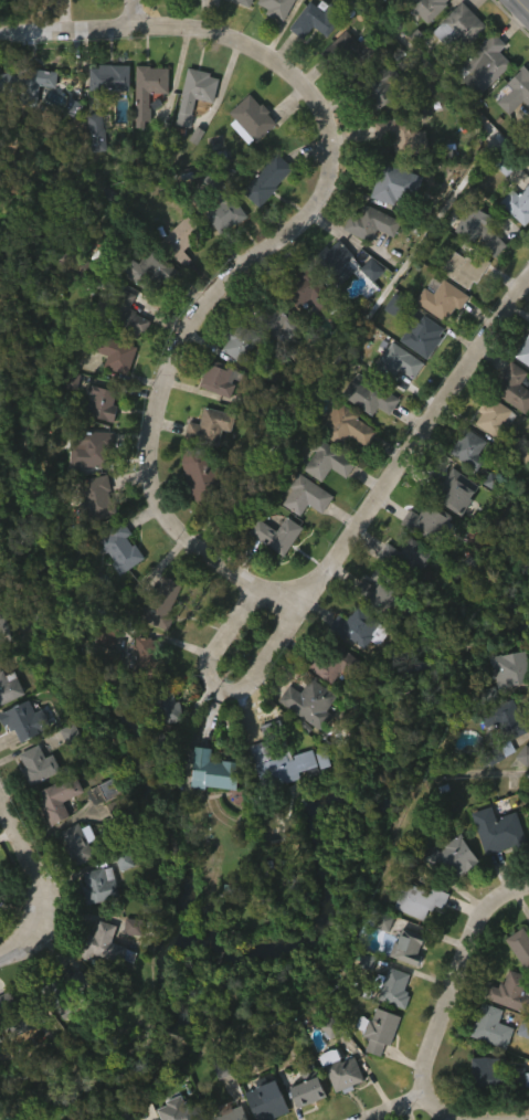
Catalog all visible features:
building: (246, 2)
road: (525, 3)
building: (306, 4)
building: (430, 7)
building: (278, 8)
road: (134, 9)
building: (395, 11)
building: (174, 12)
building: (66, 17)
building: (318, 19)
building: (234, 21)
road: (67, 23)
building: (461, 27)
building: (424, 38)
building: (350, 51)
building: (306, 57)
building: (453, 64)
building: (487, 64)
building: (112, 77)
building: (28, 83)
building: (347, 85)
building: (375, 85)
road: (447, 87)
building: (146, 92)
building: (517, 92)
building: (197, 93)
building: (478, 102)
building: (104, 114)
building: (253, 118)
building: (22, 119)
building: (142, 127)
building: (374, 128)
building: (512, 128)
building: (102, 130)
building: (189, 130)
building: (245, 156)
building: (92, 168)
building: (268, 179)
building: (398, 184)
building: (519, 204)
building: (226, 209)
building: (262, 215)
building: (372, 223)
building: (483, 229)
building: (182, 239)
building: (515, 241)
building: (220, 251)
building: (366, 260)
building: (336, 262)
building: (467, 267)
building: (155, 272)
road: (239, 275)
building: (174, 276)
building: (311, 290)
building: (329, 298)
building: (444, 299)
building: (367, 306)
building: (146, 307)
building: (123, 311)
building: (273, 315)
building: (300, 328)
building: (424, 335)
building: (242, 342)
road: (347, 342)
building: (525, 351)
building: (116, 352)
building: (272, 358)
building: (400, 363)
building: (417, 372)
building: (222, 378)
building: (516, 387)
building: (112, 391)
building: (371, 395)
building: (393, 398)
building: (100, 402)
building: (497, 416)
building: (347, 425)
building: (212, 426)
building: (470, 448)
building: (94, 450)
building: (486, 452)
building: (328, 459)
building: (204, 473)
building: (85, 486)
building: (455, 489)
building: (308, 496)
building: (95, 499)
building: (1, 500)
building: (194, 511)
building: (430, 524)
building: (448, 527)
building: (300, 532)
building: (93, 535)
building: (278, 535)
road: (351, 538)
building: (116, 546)
building: (423, 557)
building: (401, 559)
building: (271, 571)
building: (115, 588)
building: (385, 593)
building: (401, 593)
building: (161, 601)
building: (360, 628)
building: (7, 632)
building: (108, 634)
building: (149, 658)
building: (327, 663)
building: (349, 664)
building: (512, 669)
building: (103, 674)
building: (9, 686)
building: (138, 688)
building: (483, 698)
building: (313, 702)
building: (165, 705)
building: (504, 706)
building: (28, 720)
building: (507, 720)
building: (305, 739)
building: (162, 746)
building: (499, 754)
building: (278, 757)
building: (19, 758)
building: (39, 765)
building: (216, 772)
road: (484, 772)
building: (106, 792)
building: (520, 792)
building: (59, 797)
building: (31, 801)
building: (279, 801)
building: (208, 807)
building: (97, 828)
road: (6, 834)
building: (53, 835)
building: (81, 842)
building: (453, 858)
building: (493, 866)
building: (71, 880)
building: (100, 884)
road: (38, 888)
building: (1, 890)
building: (447, 894)
building: (119, 898)
building: (421, 899)
building: (94, 921)
building: (107, 944)
building: (521, 944)
building: (409, 945)
road: (458, 980)
building: (102, 982)
building: (395, 986)
building: (512, 991)
building: (68, 993)
building: (21, 1016)
building: (493, 1025)
building: (381, 1028)
building: (4, 1040)
building: (373, 1066)
building: (343, 1069)
building: (498, 1074)
building: (305, 1089)
building: (269, 1100)
road: (414, 1100)
building: (219, 1102)
building: (336, 1103)
building: (479, 1107)
building: (304, 1110)
building: (231, 1112)
building: (131, 1119)

